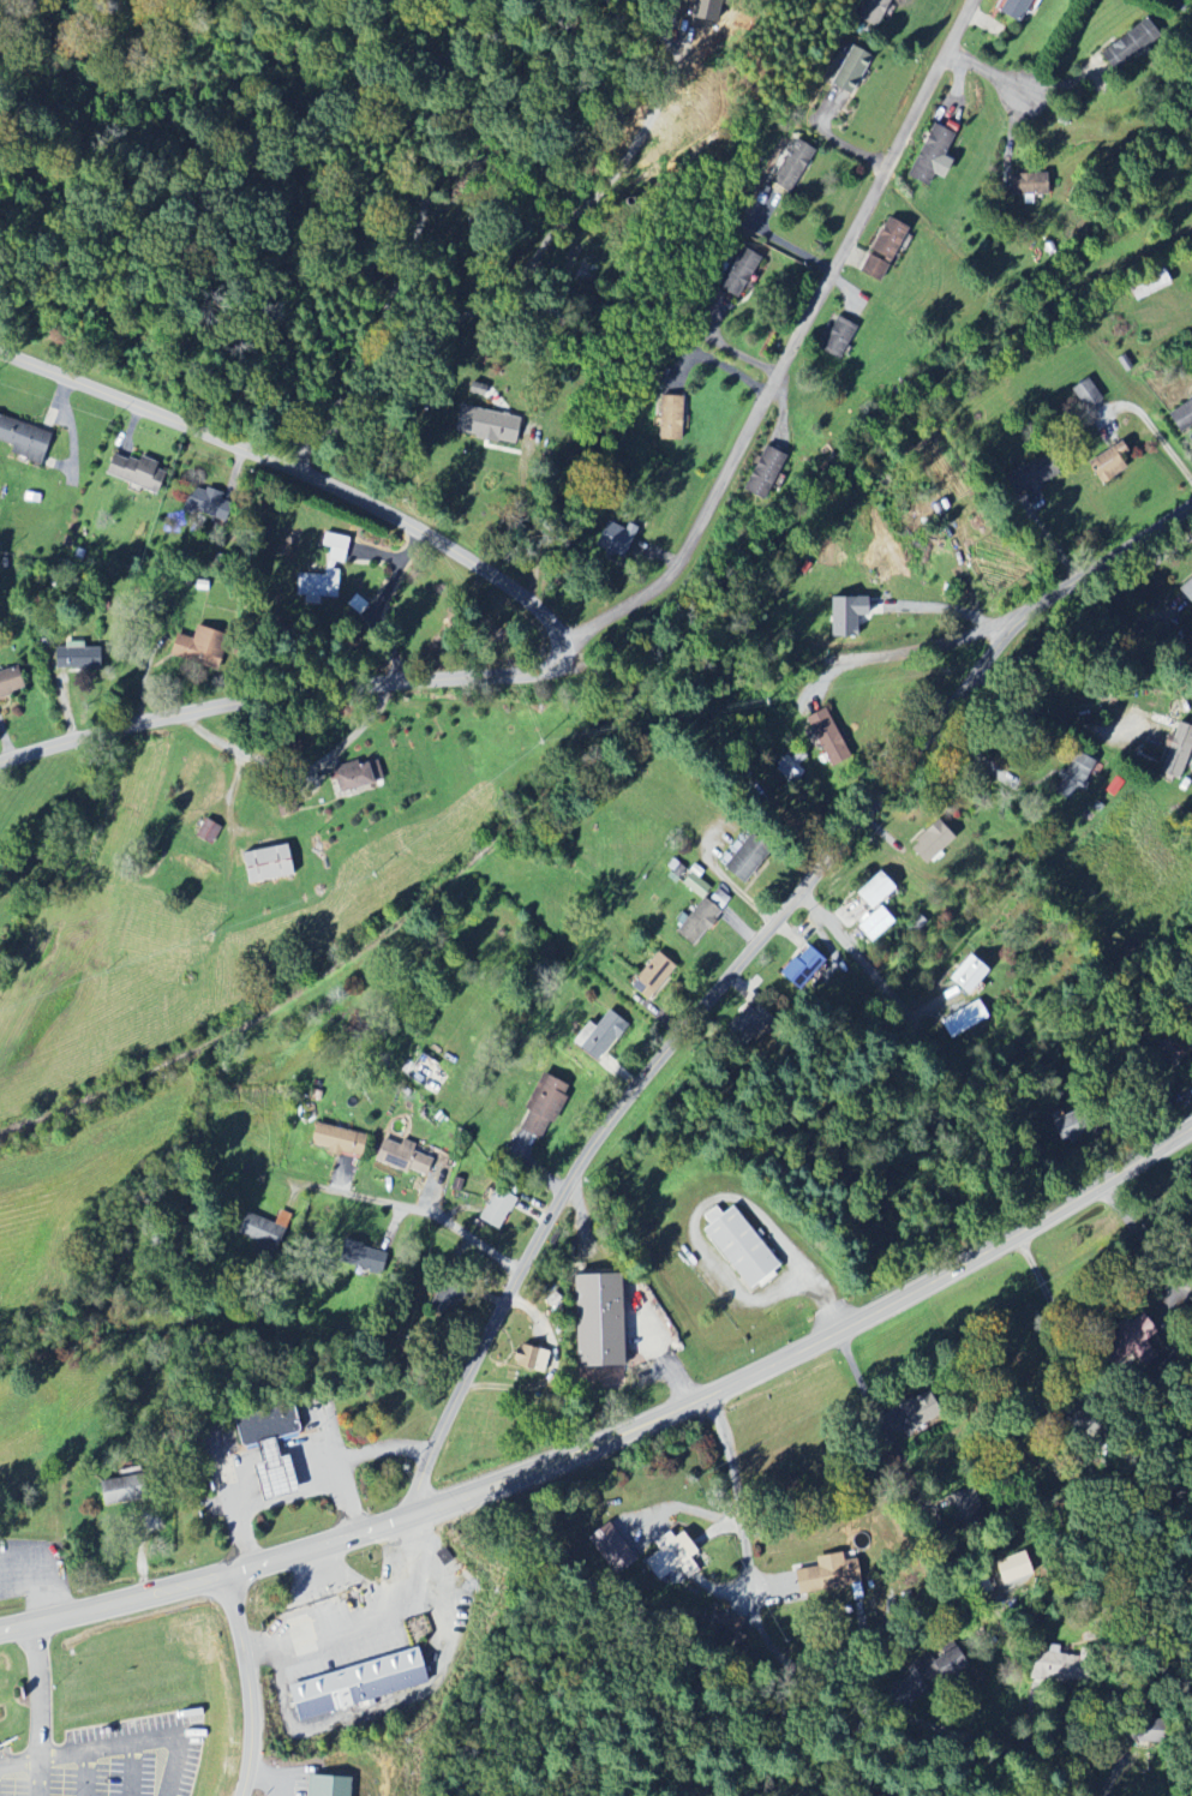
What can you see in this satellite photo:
building: (1010, 8)
building: (870, 12)
building: (843, 71)
road: (986, 72)
building: (928, 156)
building: (786, 166)
road: (413, 249)
building: (880, 251)
building: (736, 273)
road: (791, 346)
building: (666, 419)
building: (480, 426)
building: (26, 439)
building: (1104, 465)
road: (299, 471)
building: (139, 473)
building: (761, 474)
building: (1025, 478)
building: (208, 504)
road: (532, 528)
building: (611, 539)
building: (328, 570)
building: (1185, 593)
road: (381, 604)
building: (203, 647)
road: (908, 651)
building: (80, 657)
building: (12, 682)
road: (283, 693)
railway: (621, 713)
road: (1055, 718)
building: (822, 738)
building: (1174, 752)
road: (295, 765)
building: (1071, 777)
road: (230, 801)
building: (210, 831)
road: (797, 831)
building: (927, 844)
building: (270, 864)
building: (691, 886)
building: (870, 892)
building: (693, 923)
building: (873, 926)
road: (732, 970)
building: (971, 974)
building: (657, 975)
road: (875, 976)
building: (968, 1018)
building: (756, 1022)
building: (609, 1032)
building: (423, 1070)
building: (547, 1104)
building: (342, 1141)
building: (406, 1157)
road: (712, 1198)
road: (408, 1204)
building: (501, 1208)
road: (1143, 1225)
building: (266, 1232)
building: (742, 1246)
road: (1054, 1316)
building: (604, 1319)
building: (534, 1358)
road: (551, 1371)
road: (677, 1409)
building: (922, 1411)
road: (879, 1415)
building: (276, 1449)
road: (346, 1460)
building: (127, 1490)
road: (263, 1504)
building: (964, 1509)
building: (615, 1549)
building: (675, 1556)
building: (1016, 1568)
building: (831, 1574)
road: (60, 1618)
building: (951, 1663)
building: (1065, 1666)
road: (823, 1675)
road: (244, 1684)
building: (363, 1684)
road: (40, 1713)
road: (142, 1741)
road: (41, 1777)
building: (330, 1786)

